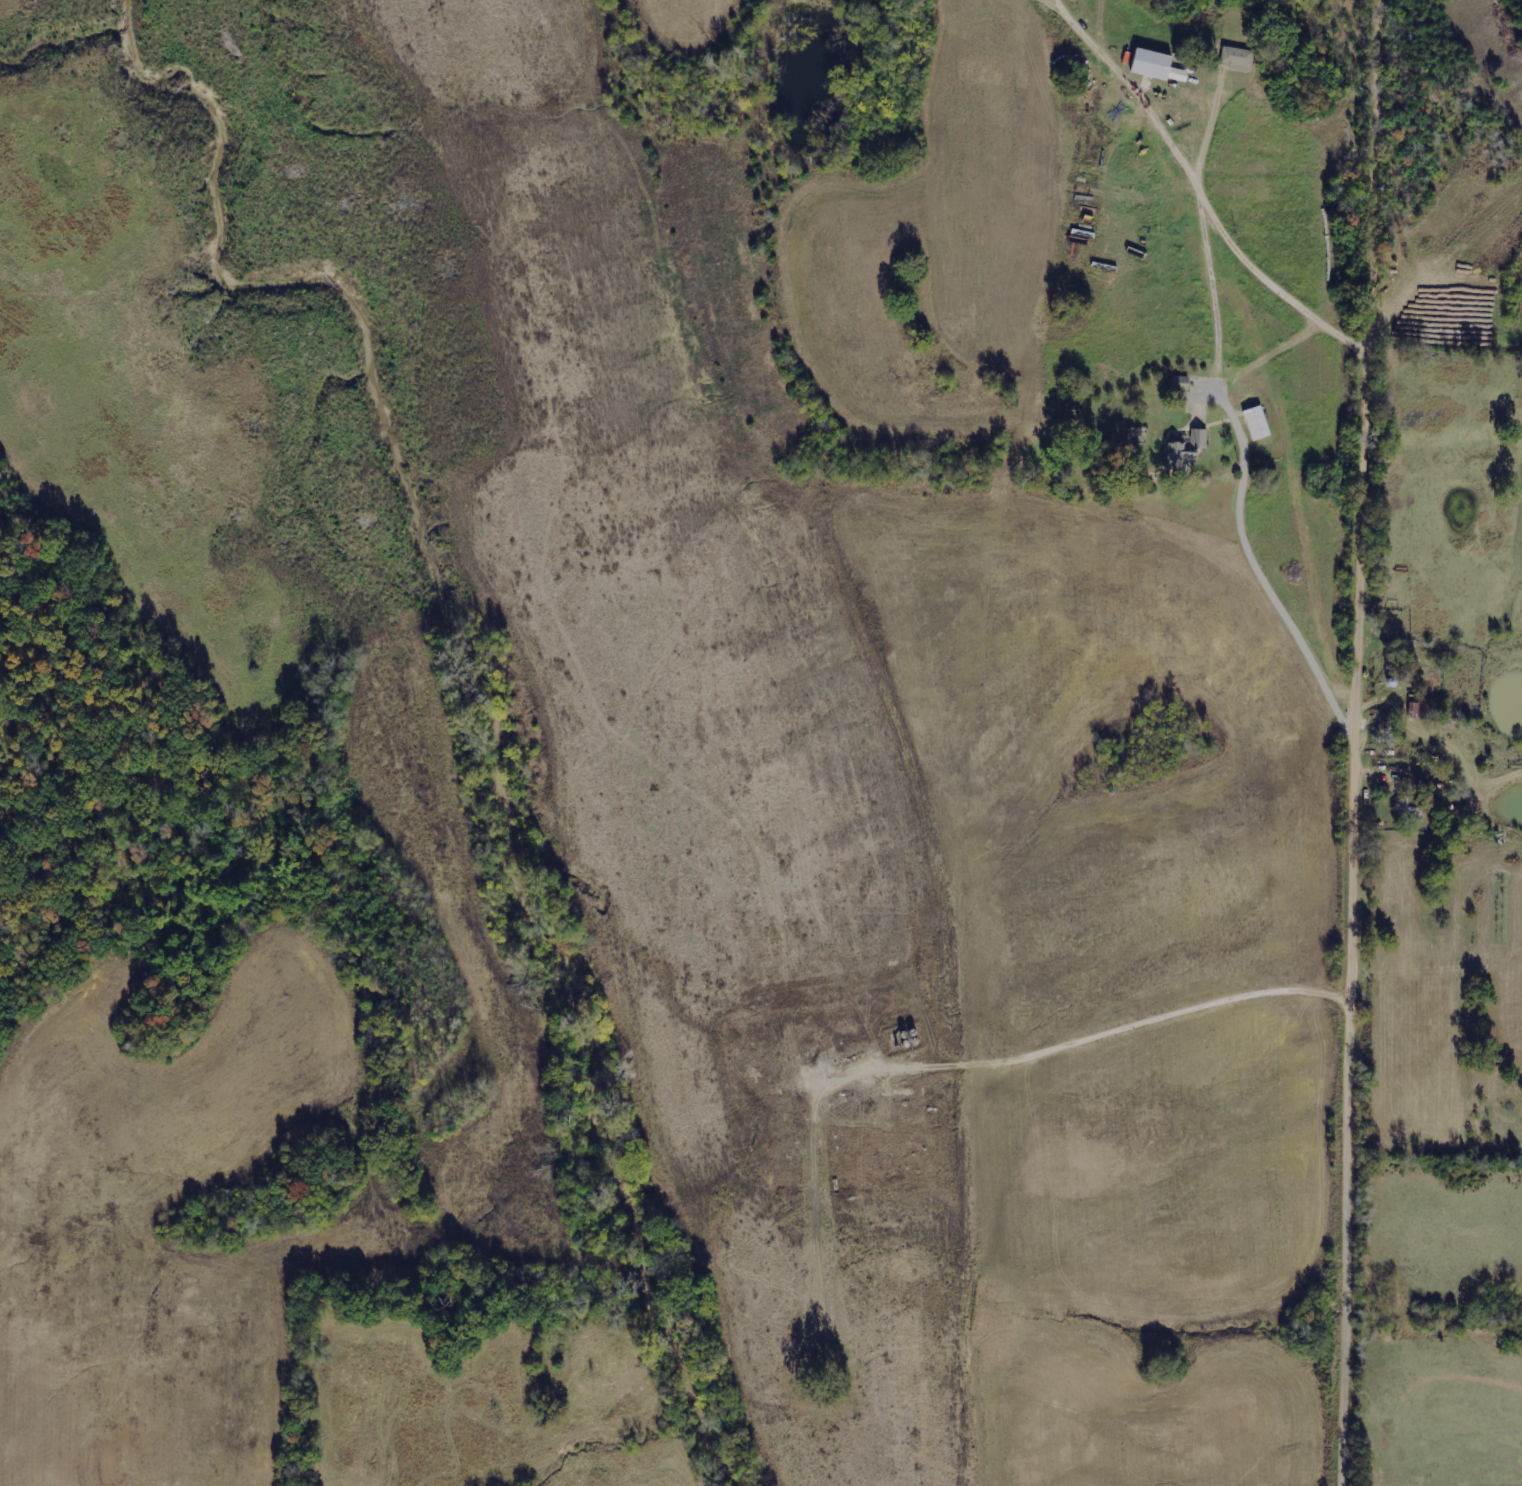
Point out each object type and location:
building: (1238, 58)
building: (1154, 64)
building: (1258, 423)
road: (1245, 471)
road: (1363, 688)

